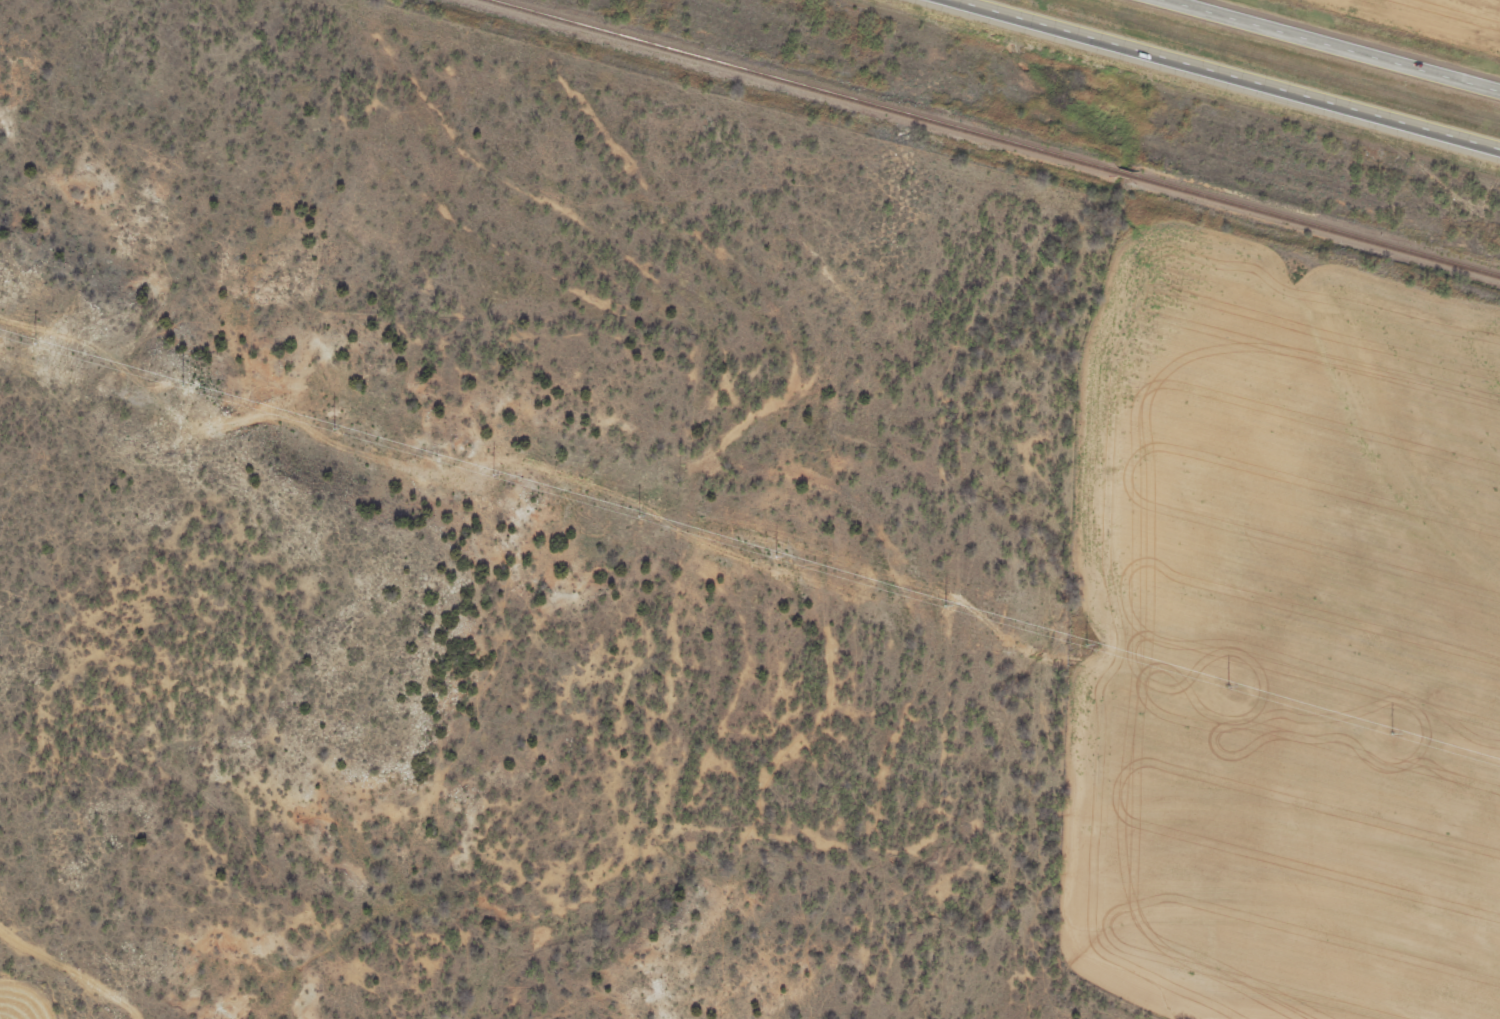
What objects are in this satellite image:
road: (1352, 40)
road: (1231, 74)
railway: (989, 134)
road: (73, 968)

